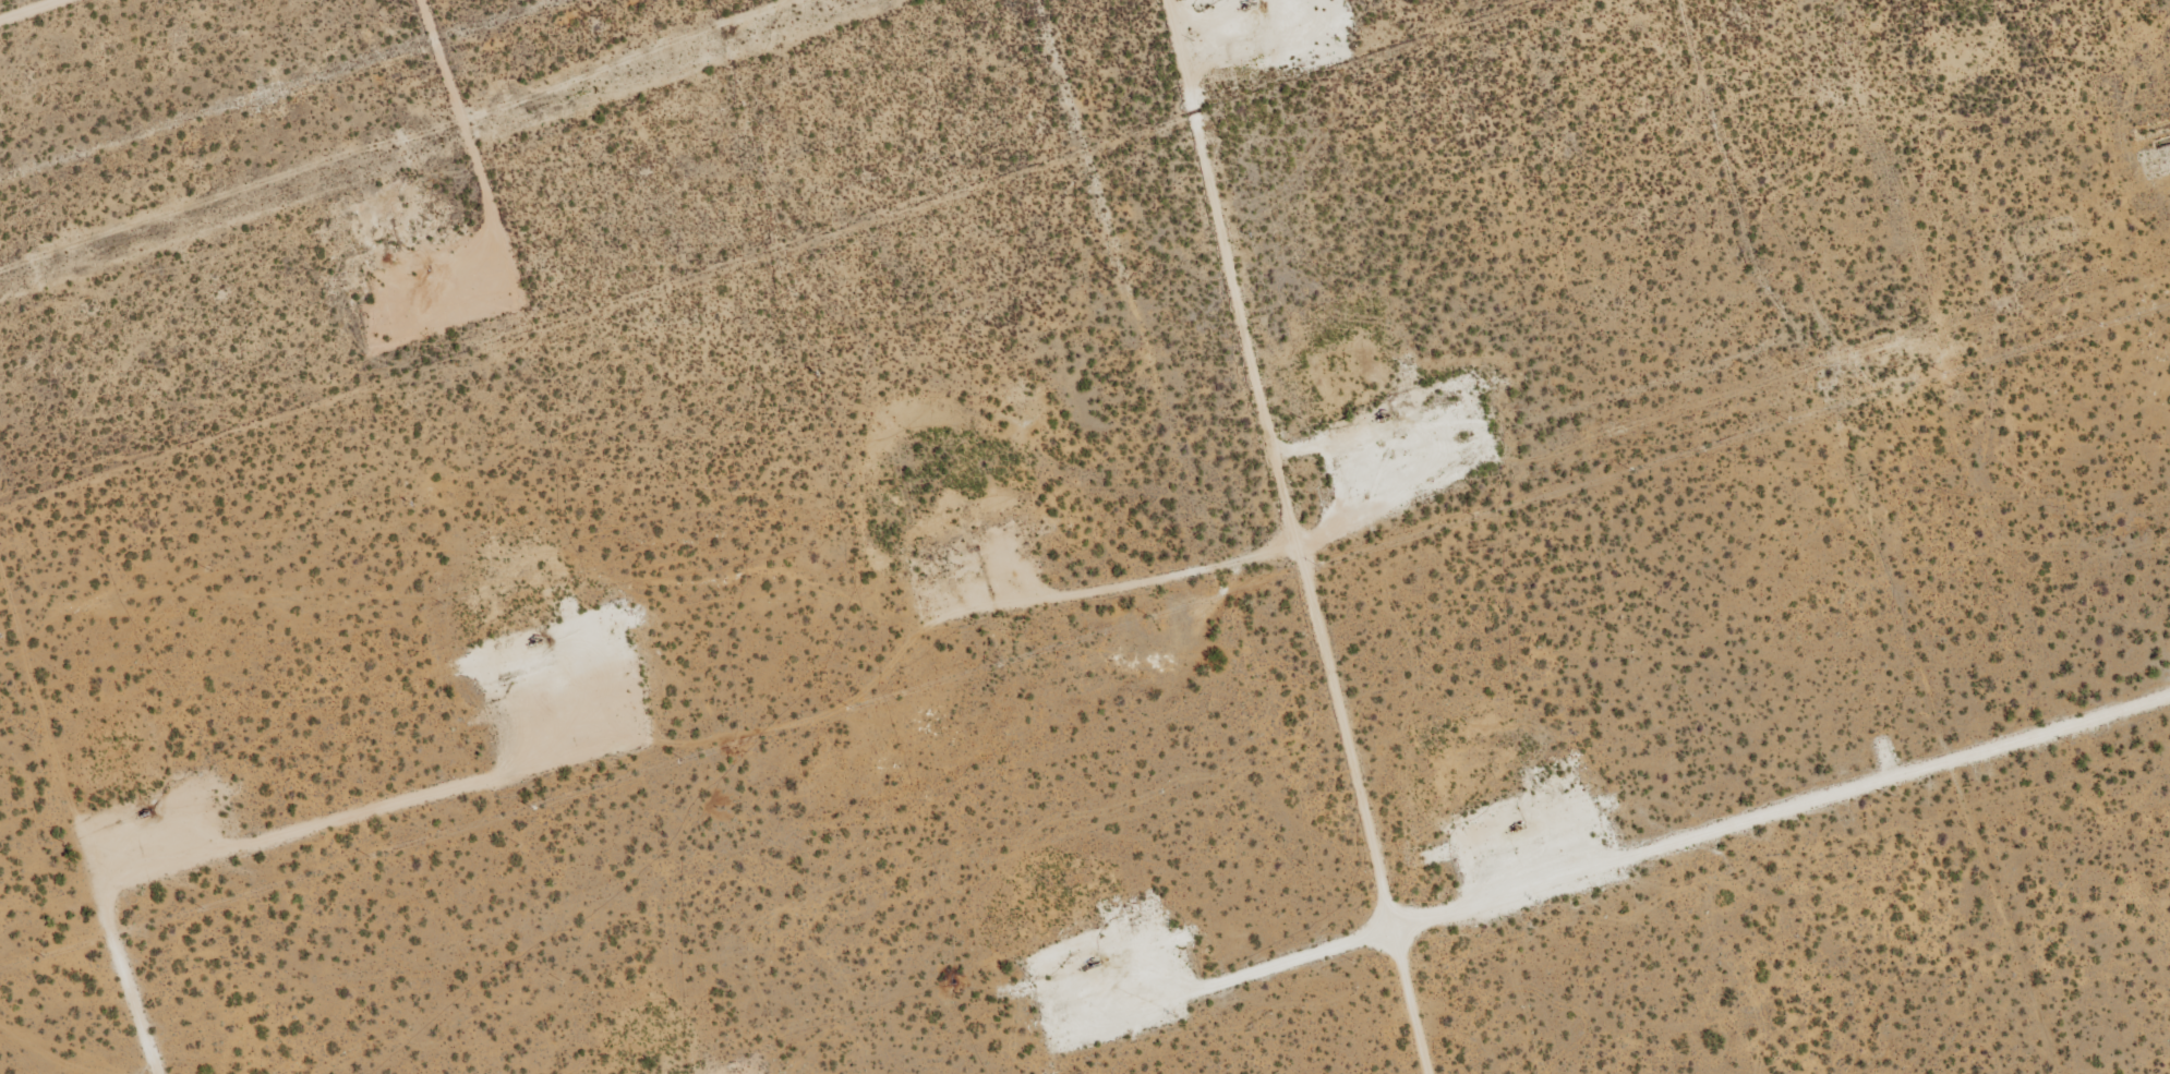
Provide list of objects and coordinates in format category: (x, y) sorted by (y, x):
road: (1235, 540)
road: (1789, 547)
road: (628, 587)

